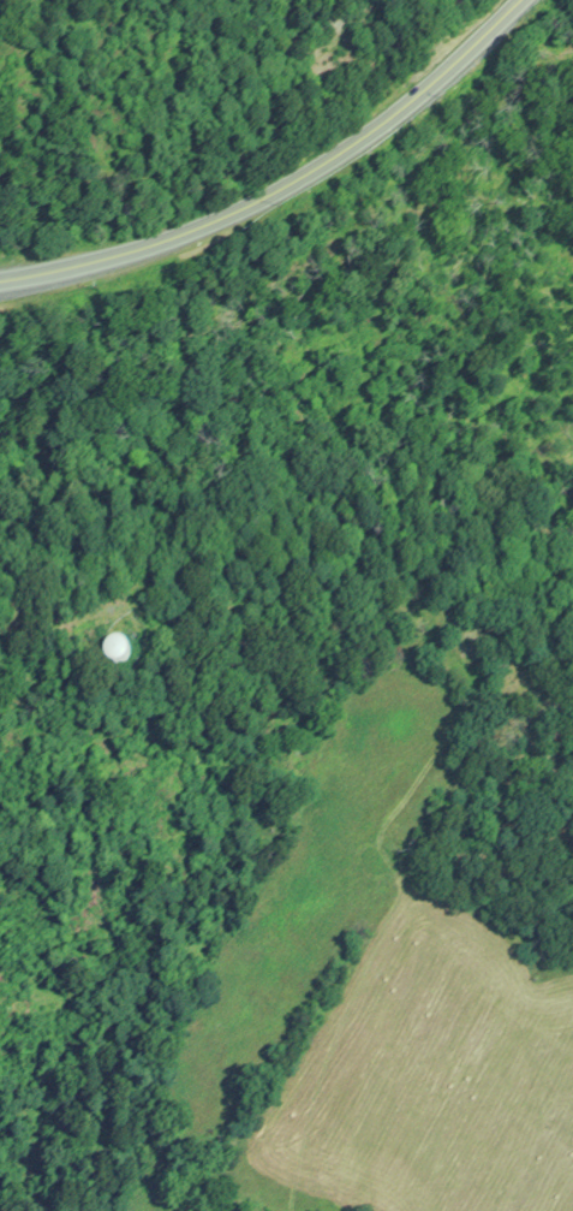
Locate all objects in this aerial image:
road: (280, 183)

